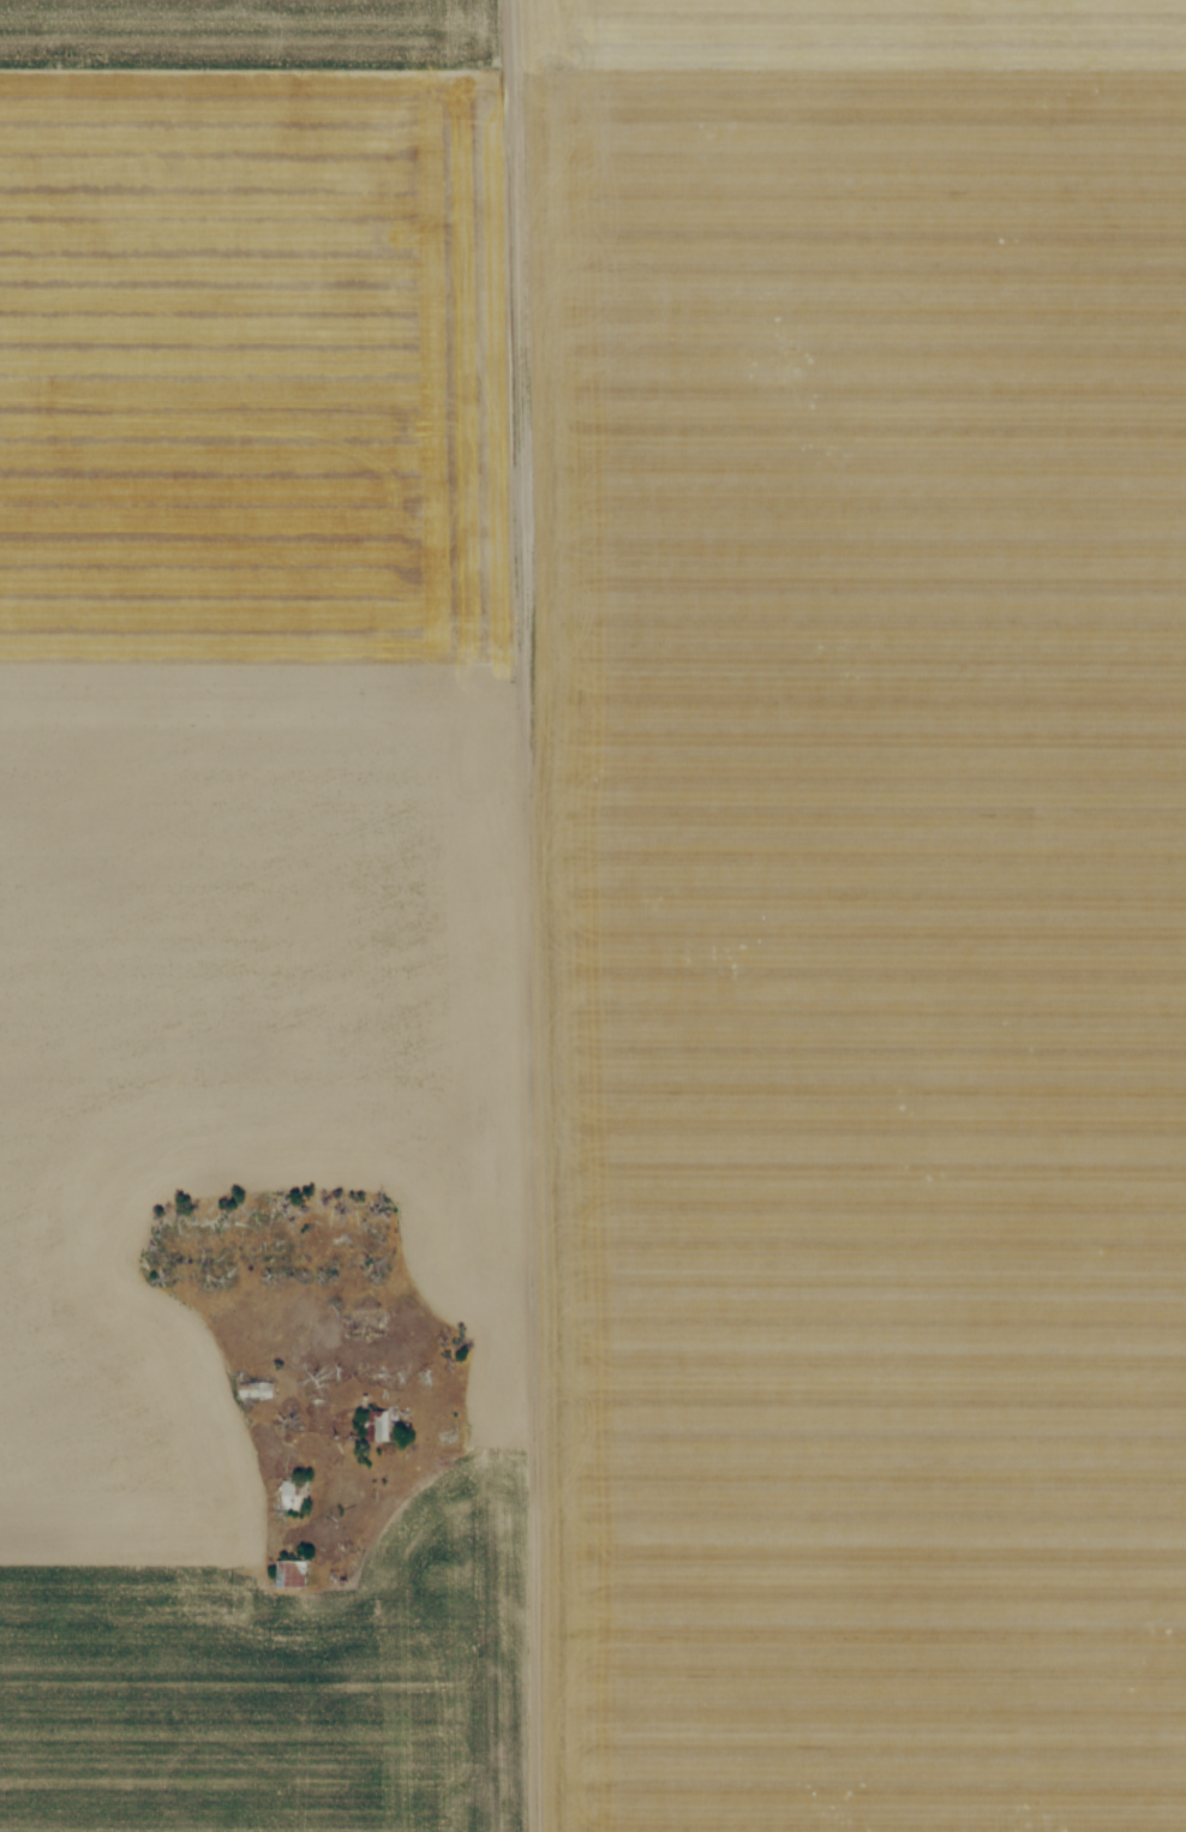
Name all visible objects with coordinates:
crop: (593, 916)
building: (372, 1424)
building: (292, 1493)
building: (289, 1573)

